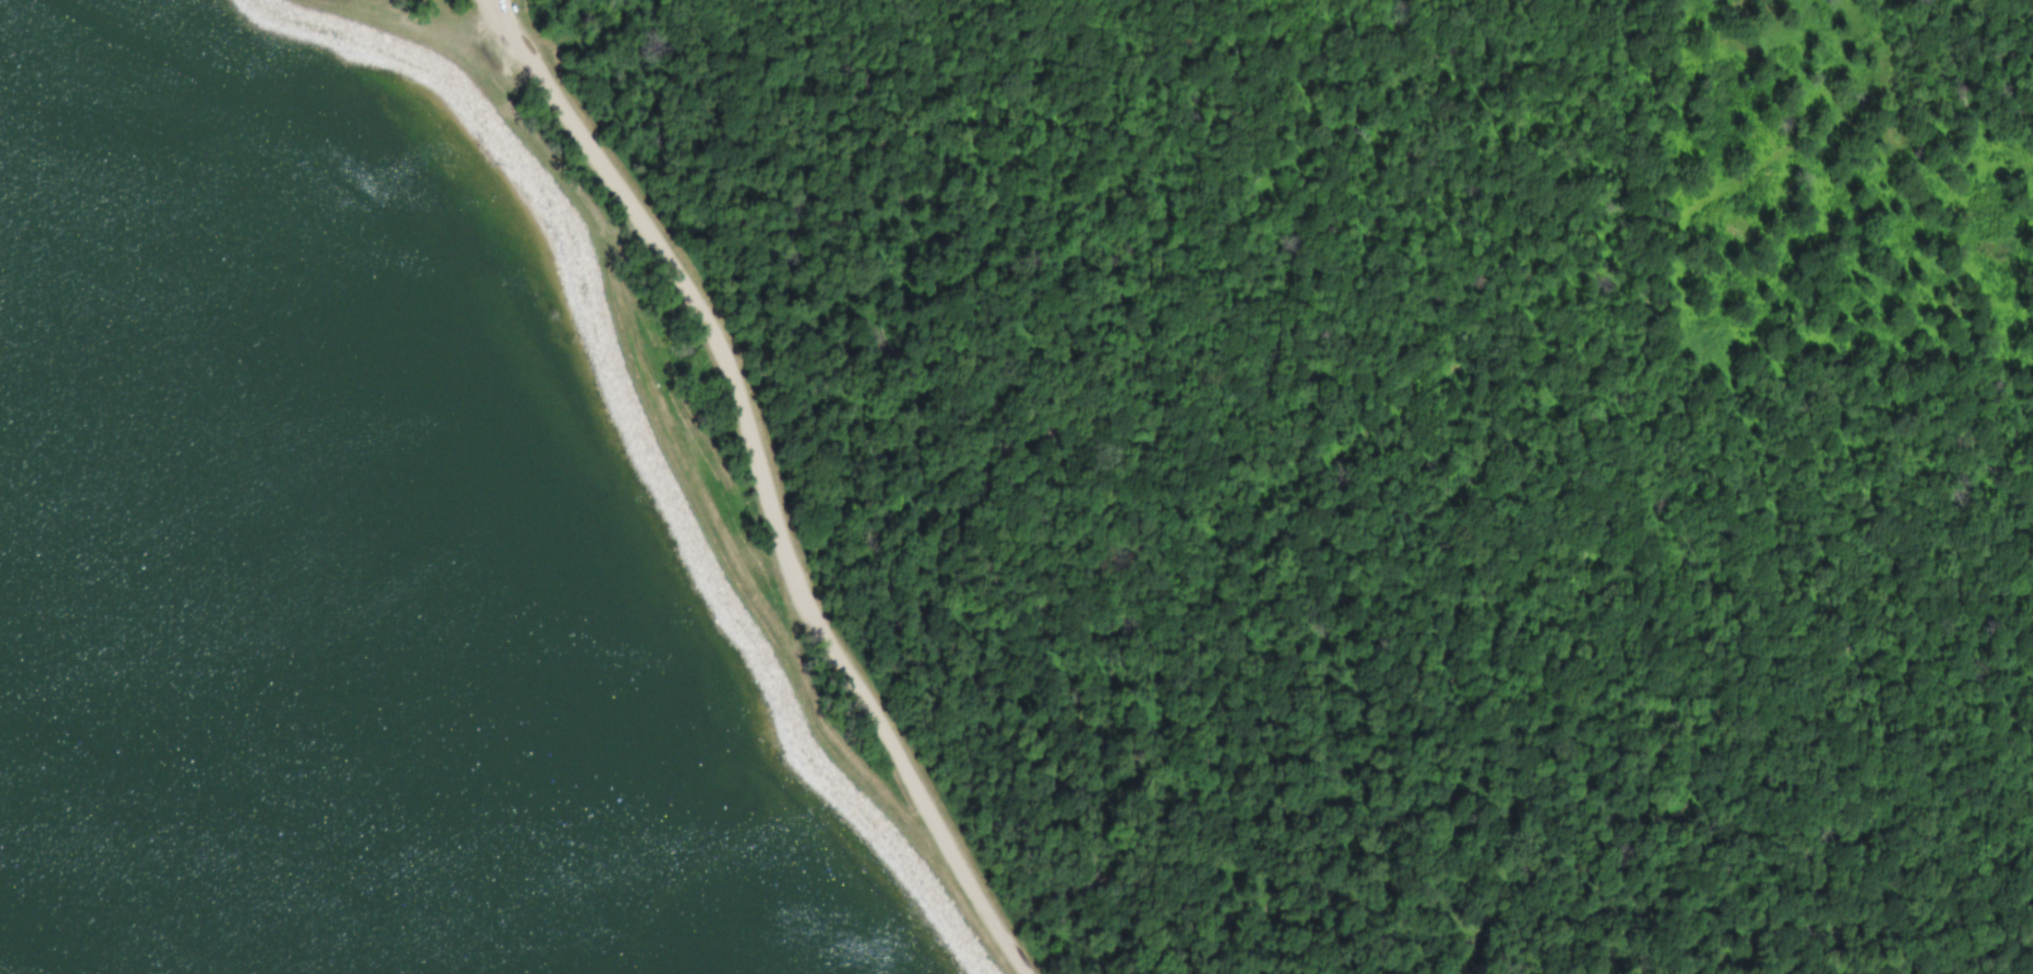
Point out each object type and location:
road: (767, 482)

